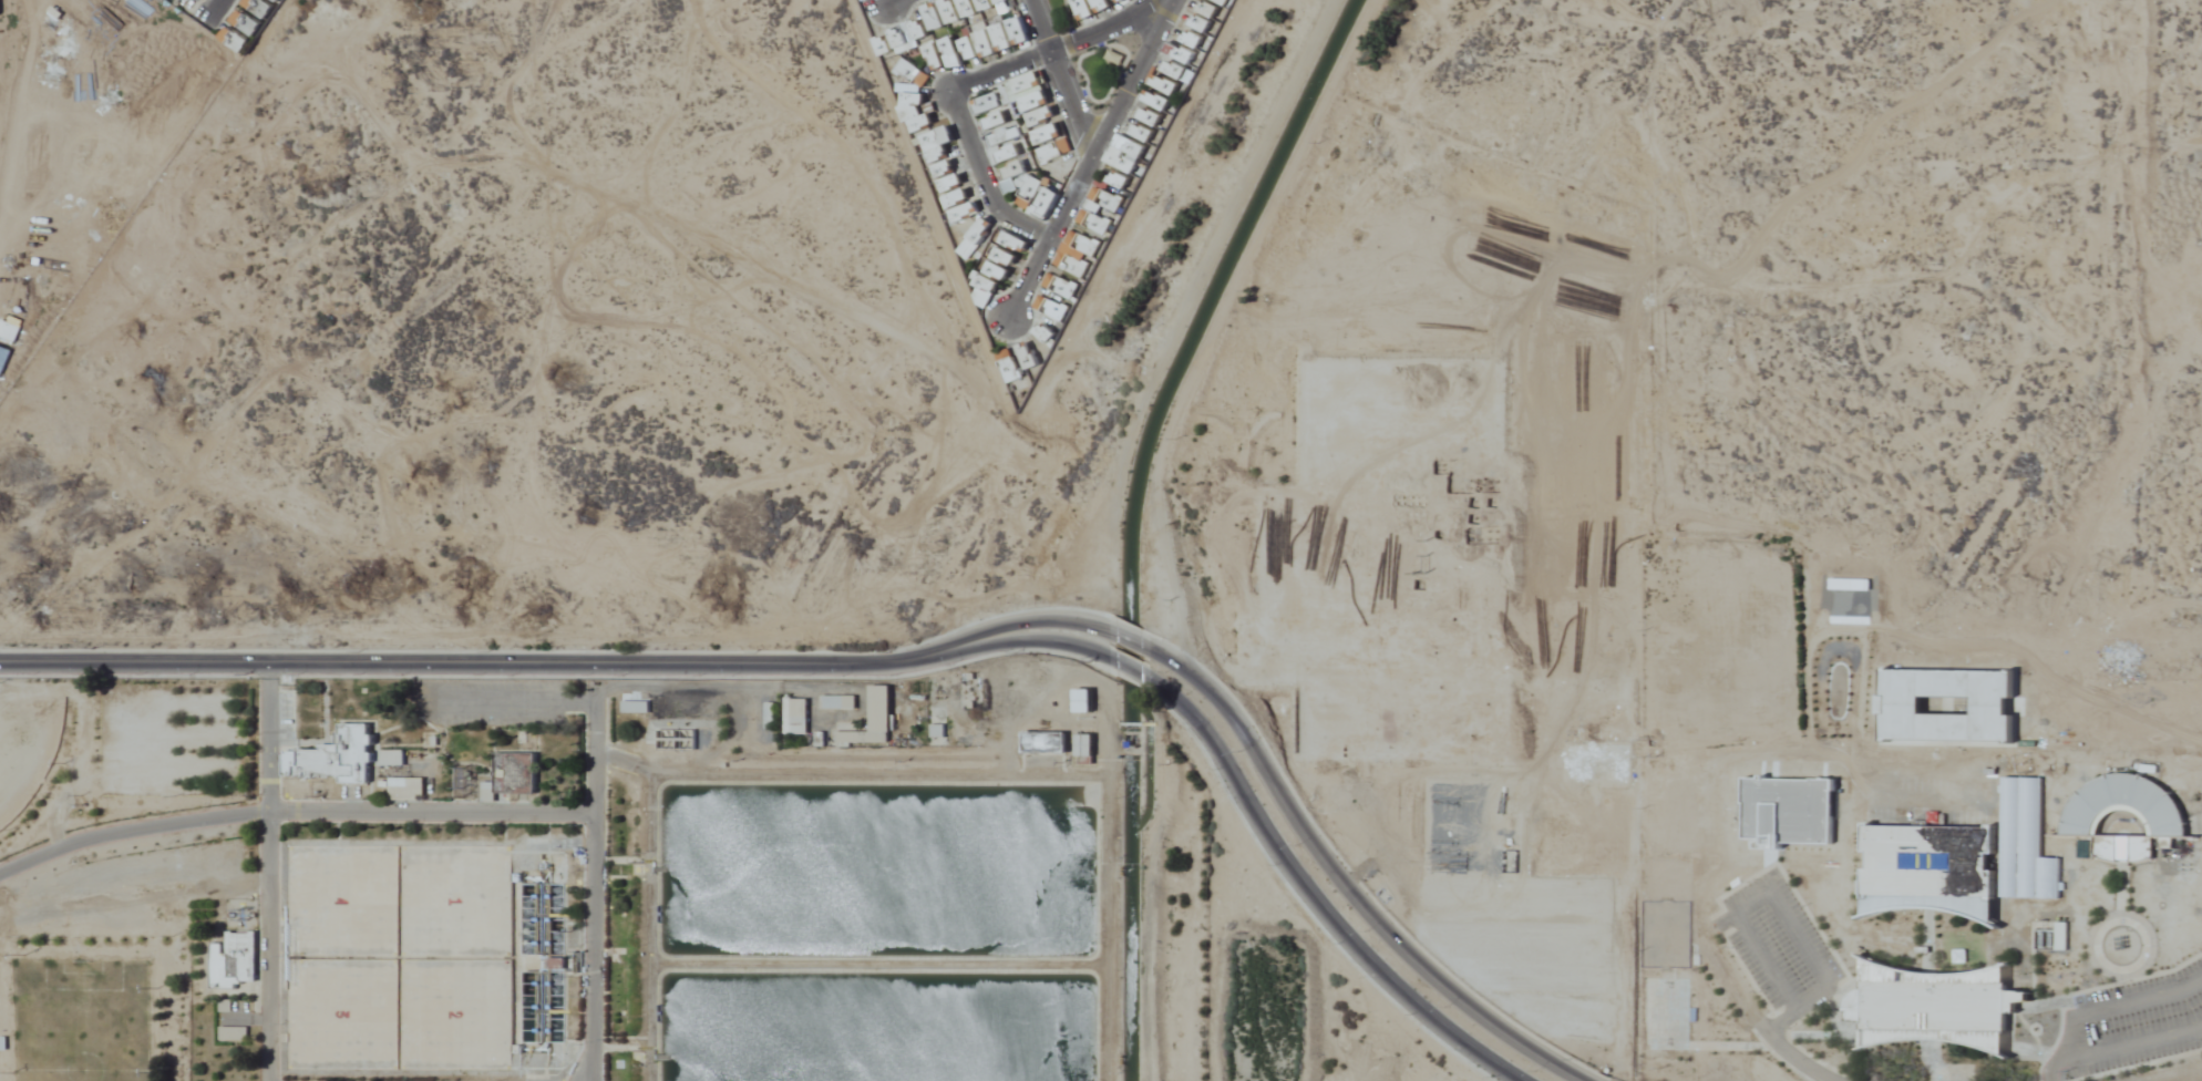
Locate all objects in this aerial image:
park: (1113, 63)
park: (1891, 936)
park: (1965, 941)
parking lot: (1777, 945)
park: (1962, 953)
park: (2065, 971)
parking lot: (2133, 1022)
park: (1900, 1057)

